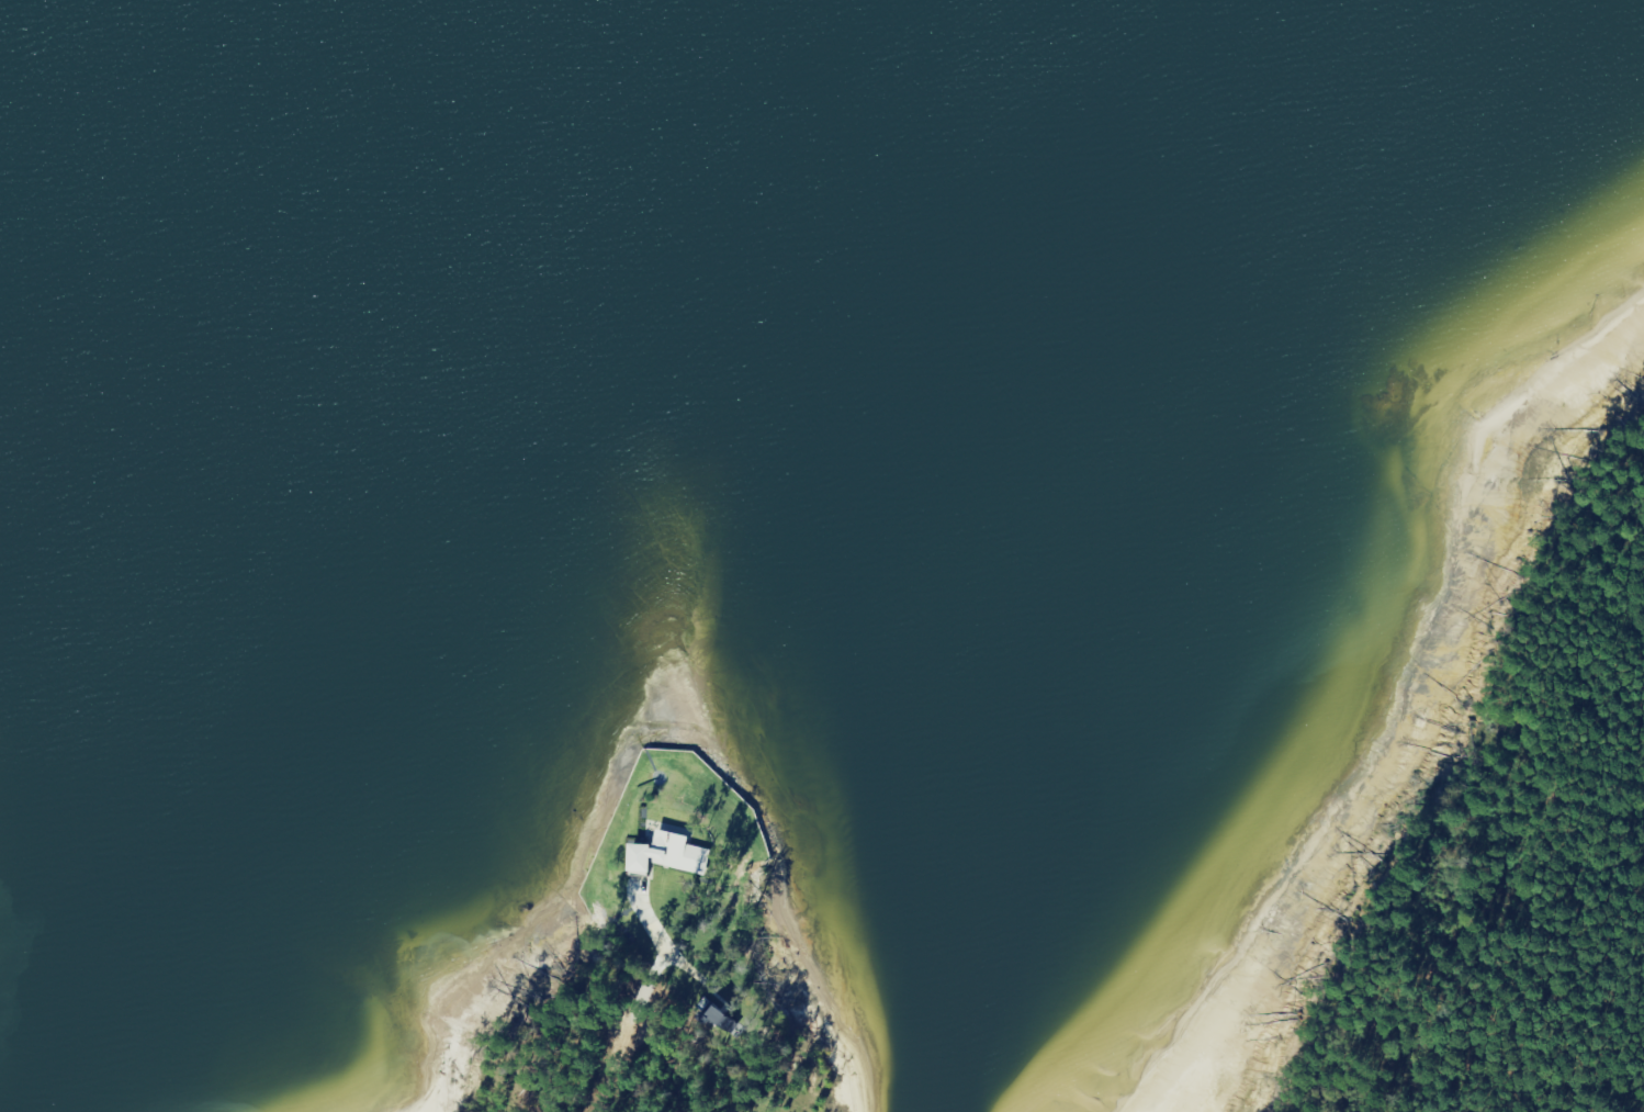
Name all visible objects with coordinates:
building: (678, 855)
building: (733, 1022)
road: (622, 1048)

